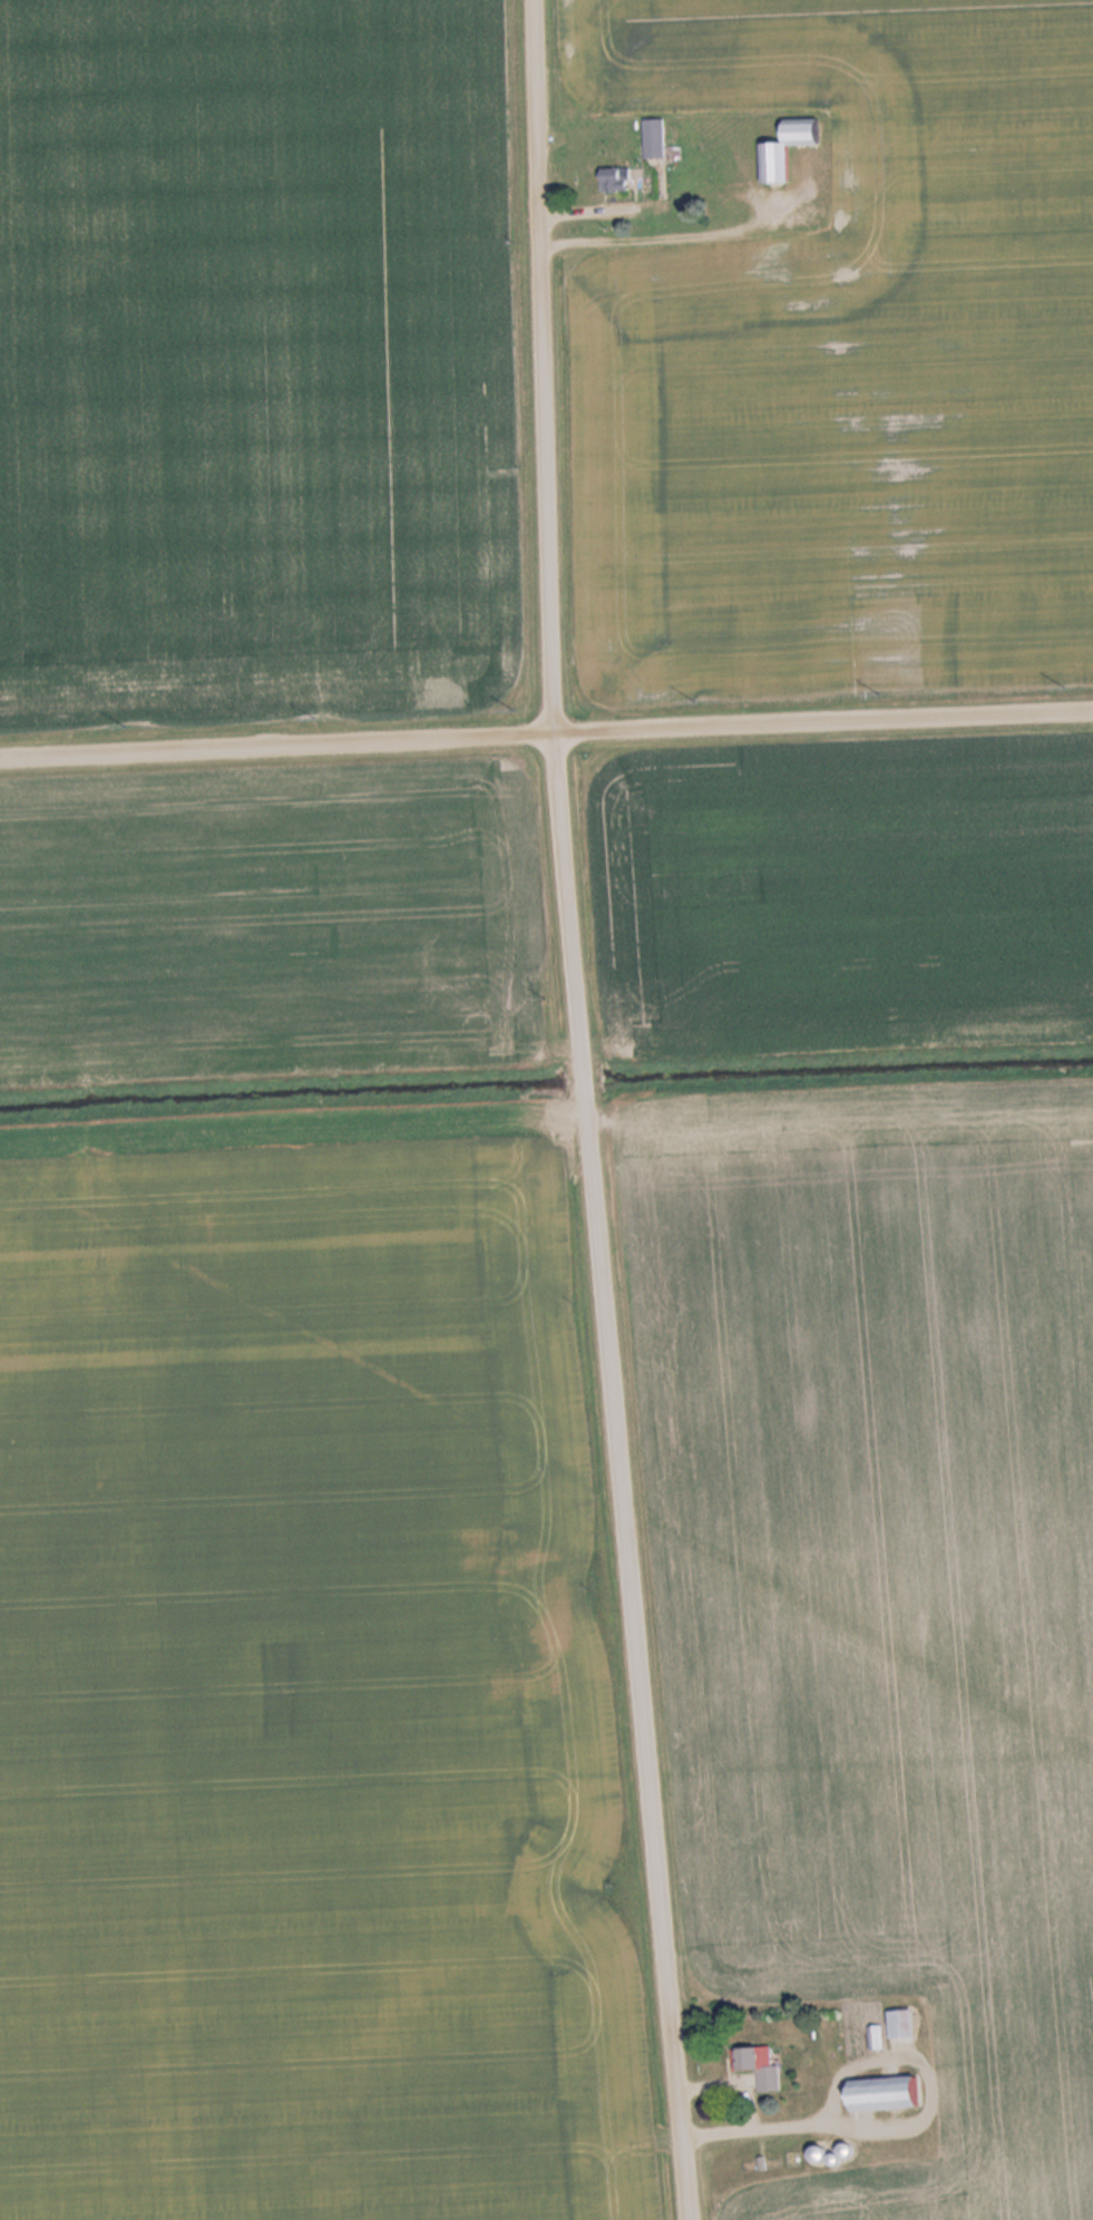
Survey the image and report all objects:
building: (657, 139)
building: (781, 163)
building: (619, 179)
road: (546, 733)
road: (582, 1111)
building: (907, 2025)
building: (763, 2066)
building: (894, 2094)

